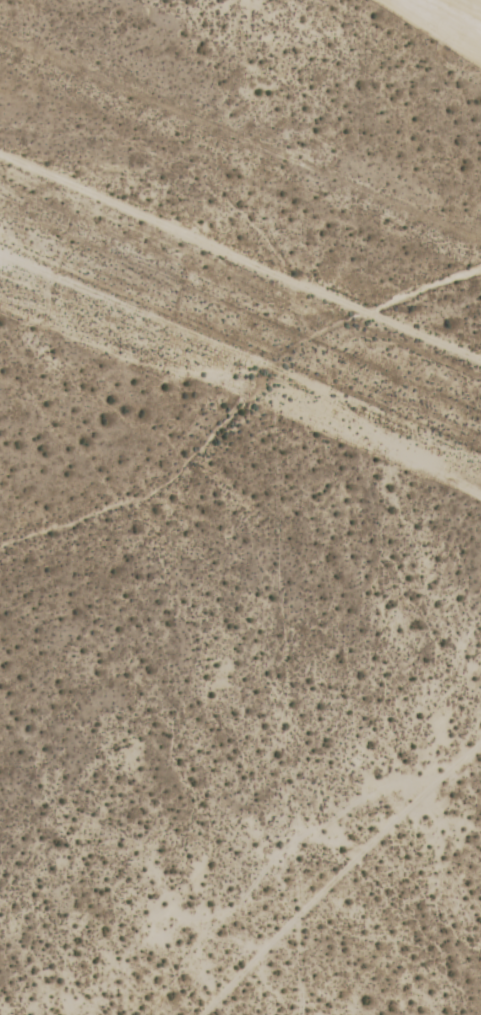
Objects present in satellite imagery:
road: (240, 259)

